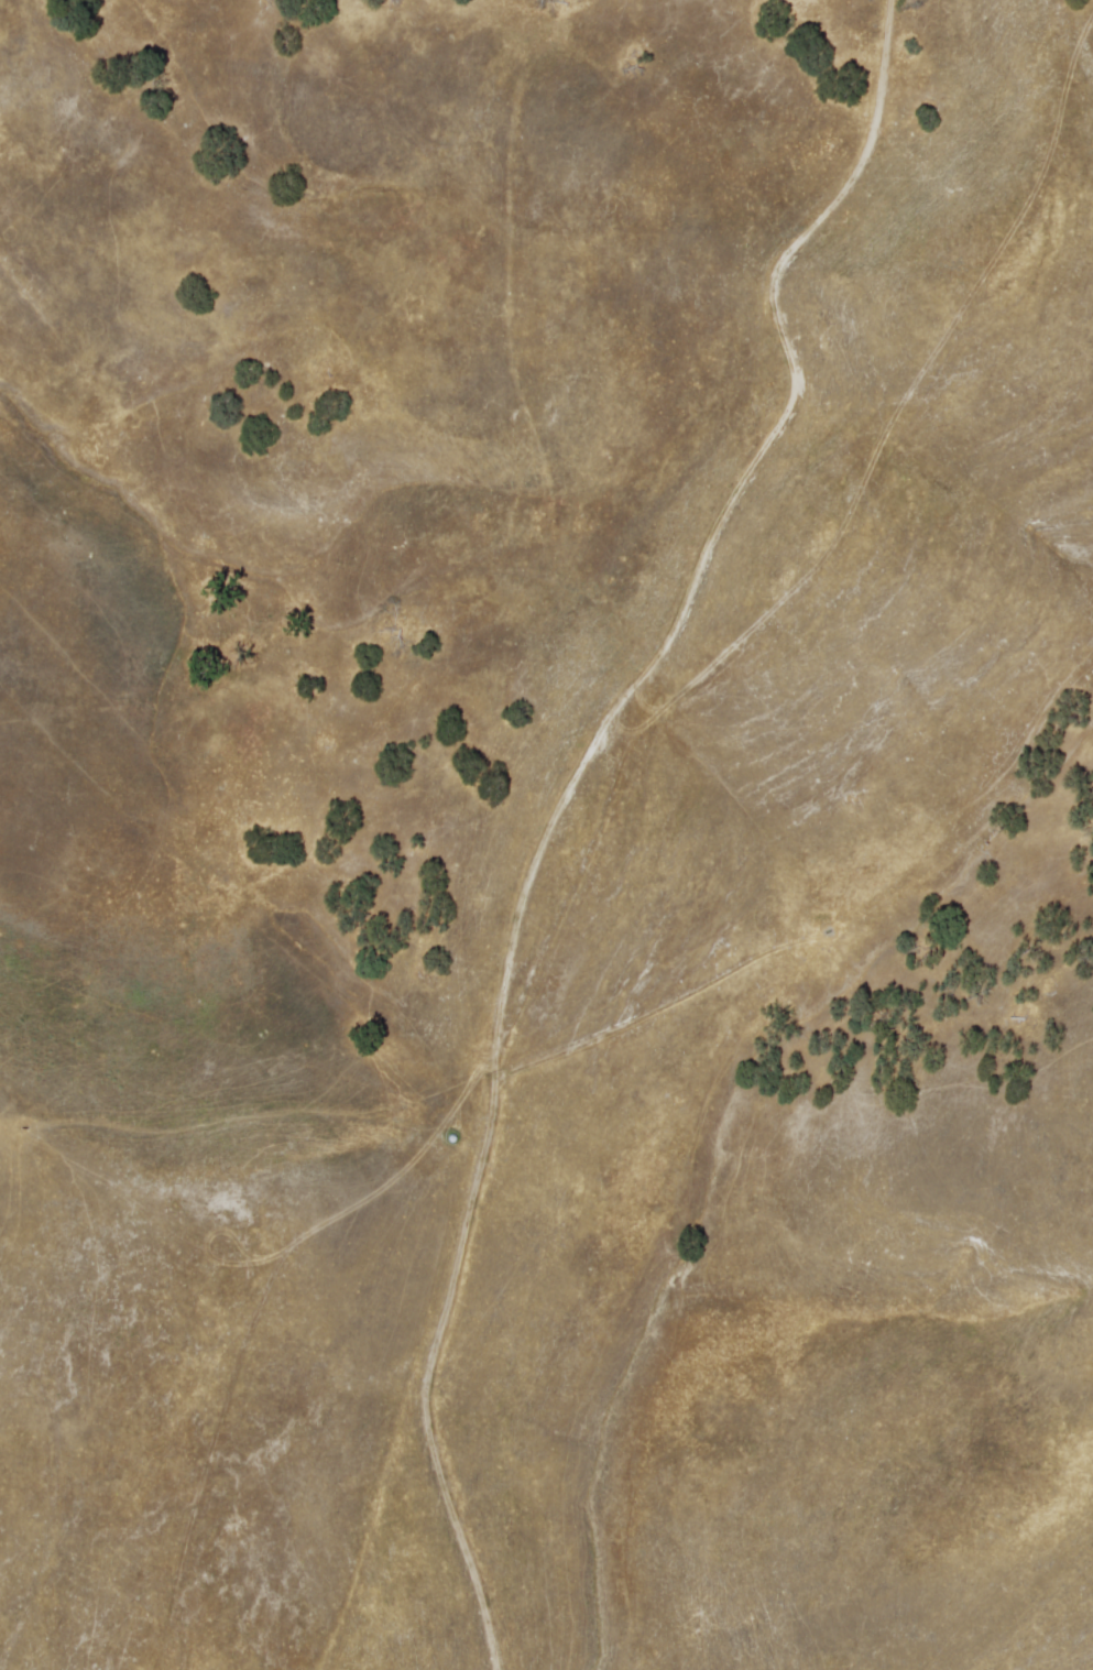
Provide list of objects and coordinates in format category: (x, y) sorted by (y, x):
road: (561, 798)

